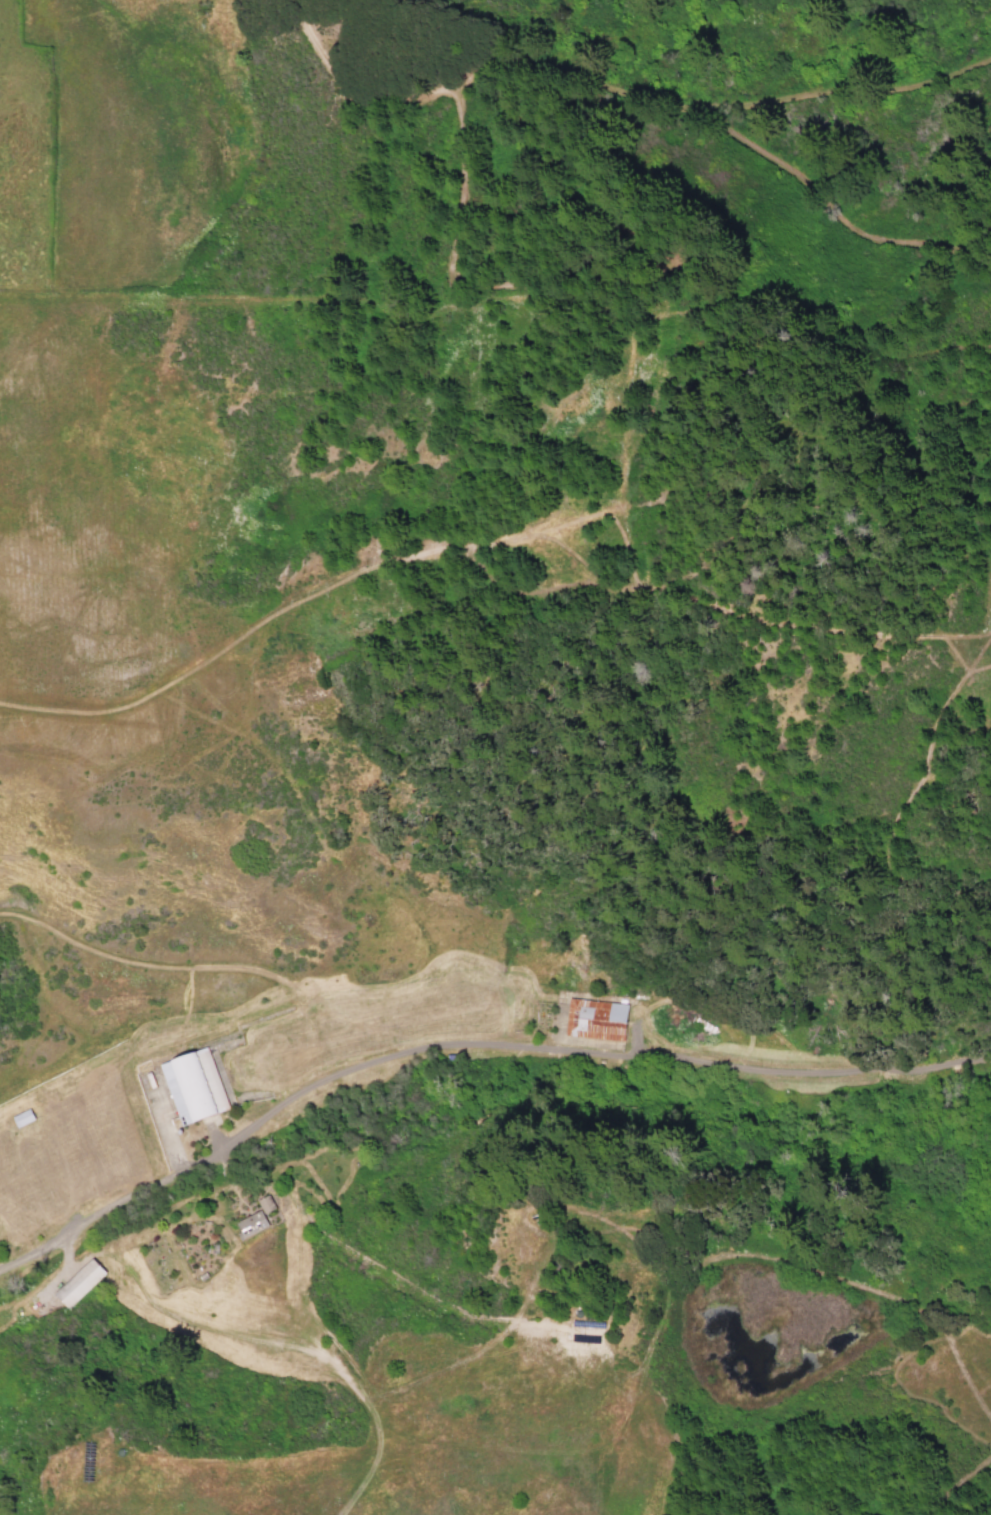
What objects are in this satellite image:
building: (597, 1019)
road: (467, 1047)
building: (194, 1086)
building: (256, 1217)
building: (78, 1282)

